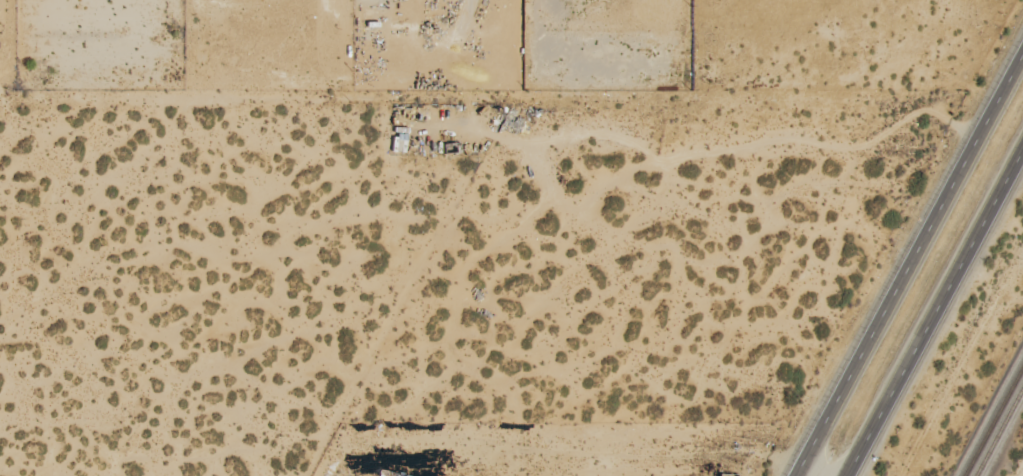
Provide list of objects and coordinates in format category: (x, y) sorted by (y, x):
road: (909, 264)
road: (933, 310)
railway: (993, 420)
railway: (999, 431)

